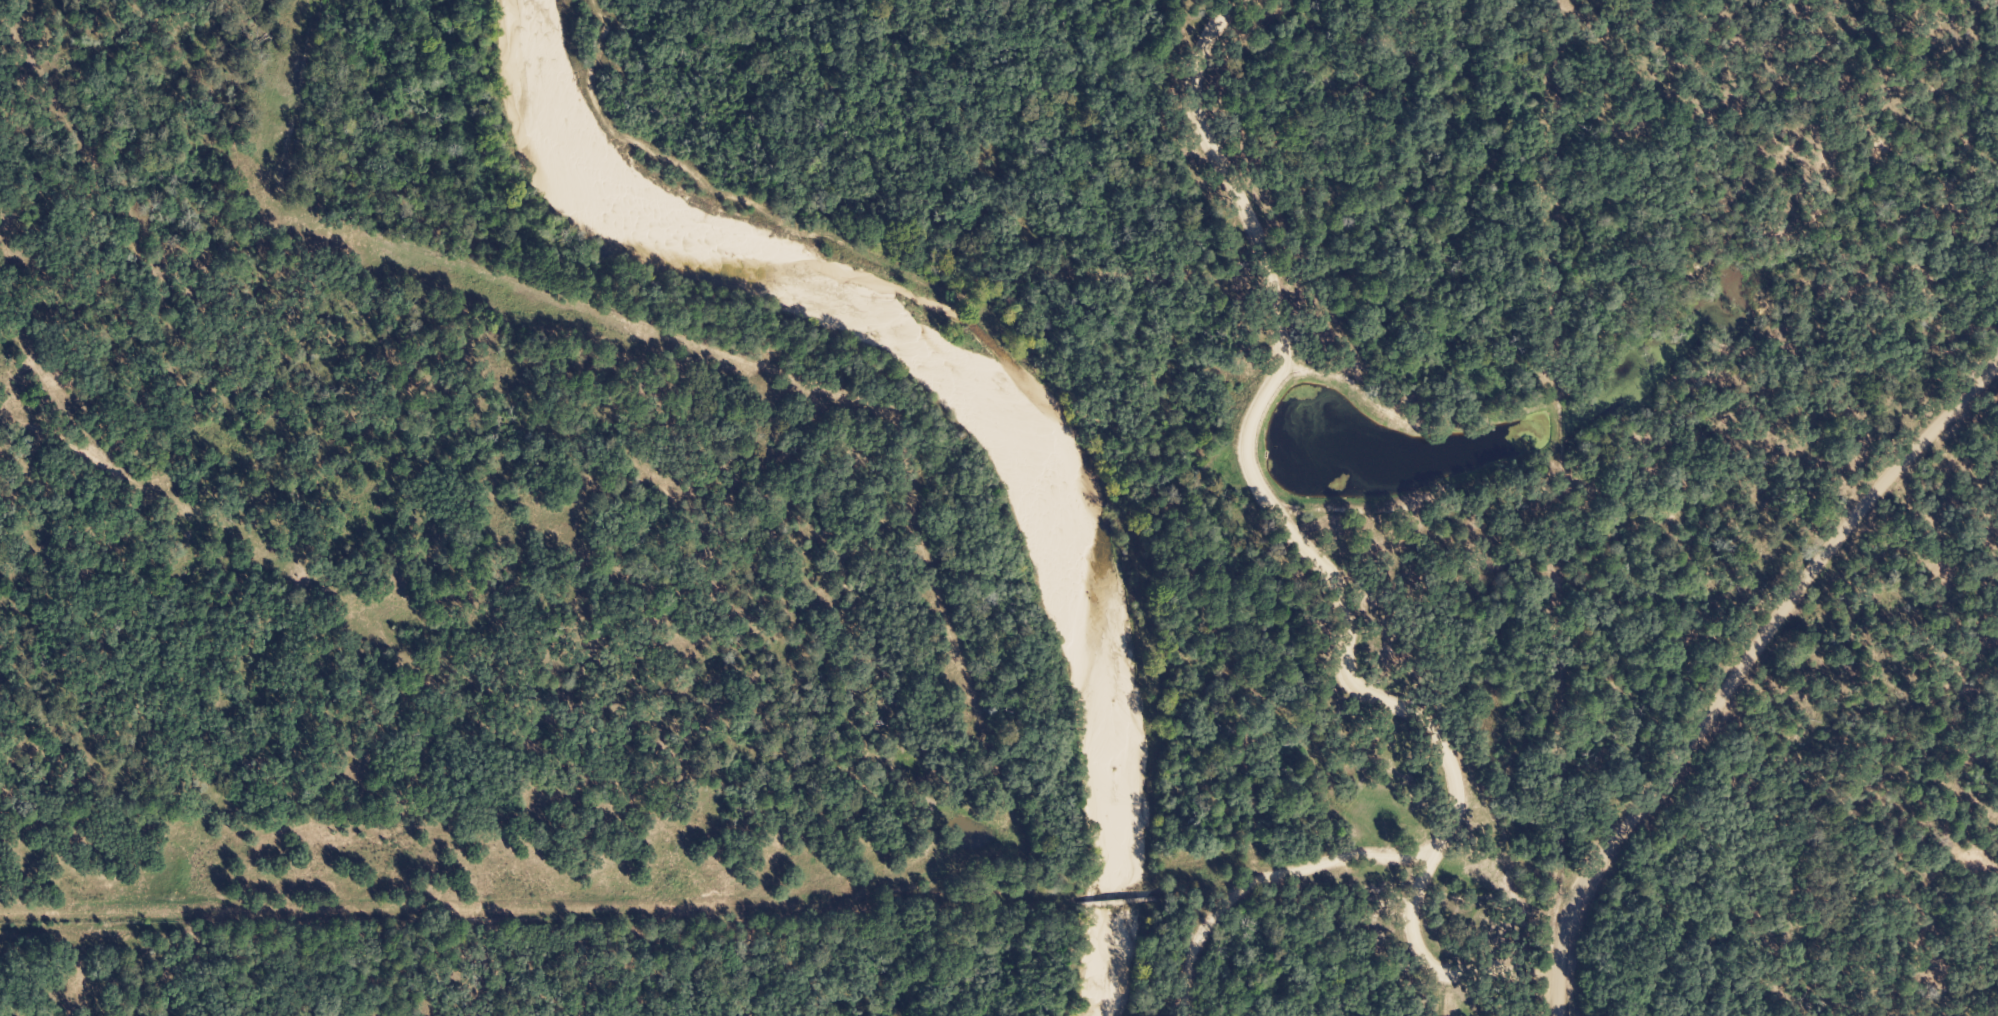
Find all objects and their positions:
road: (1740, 671)

